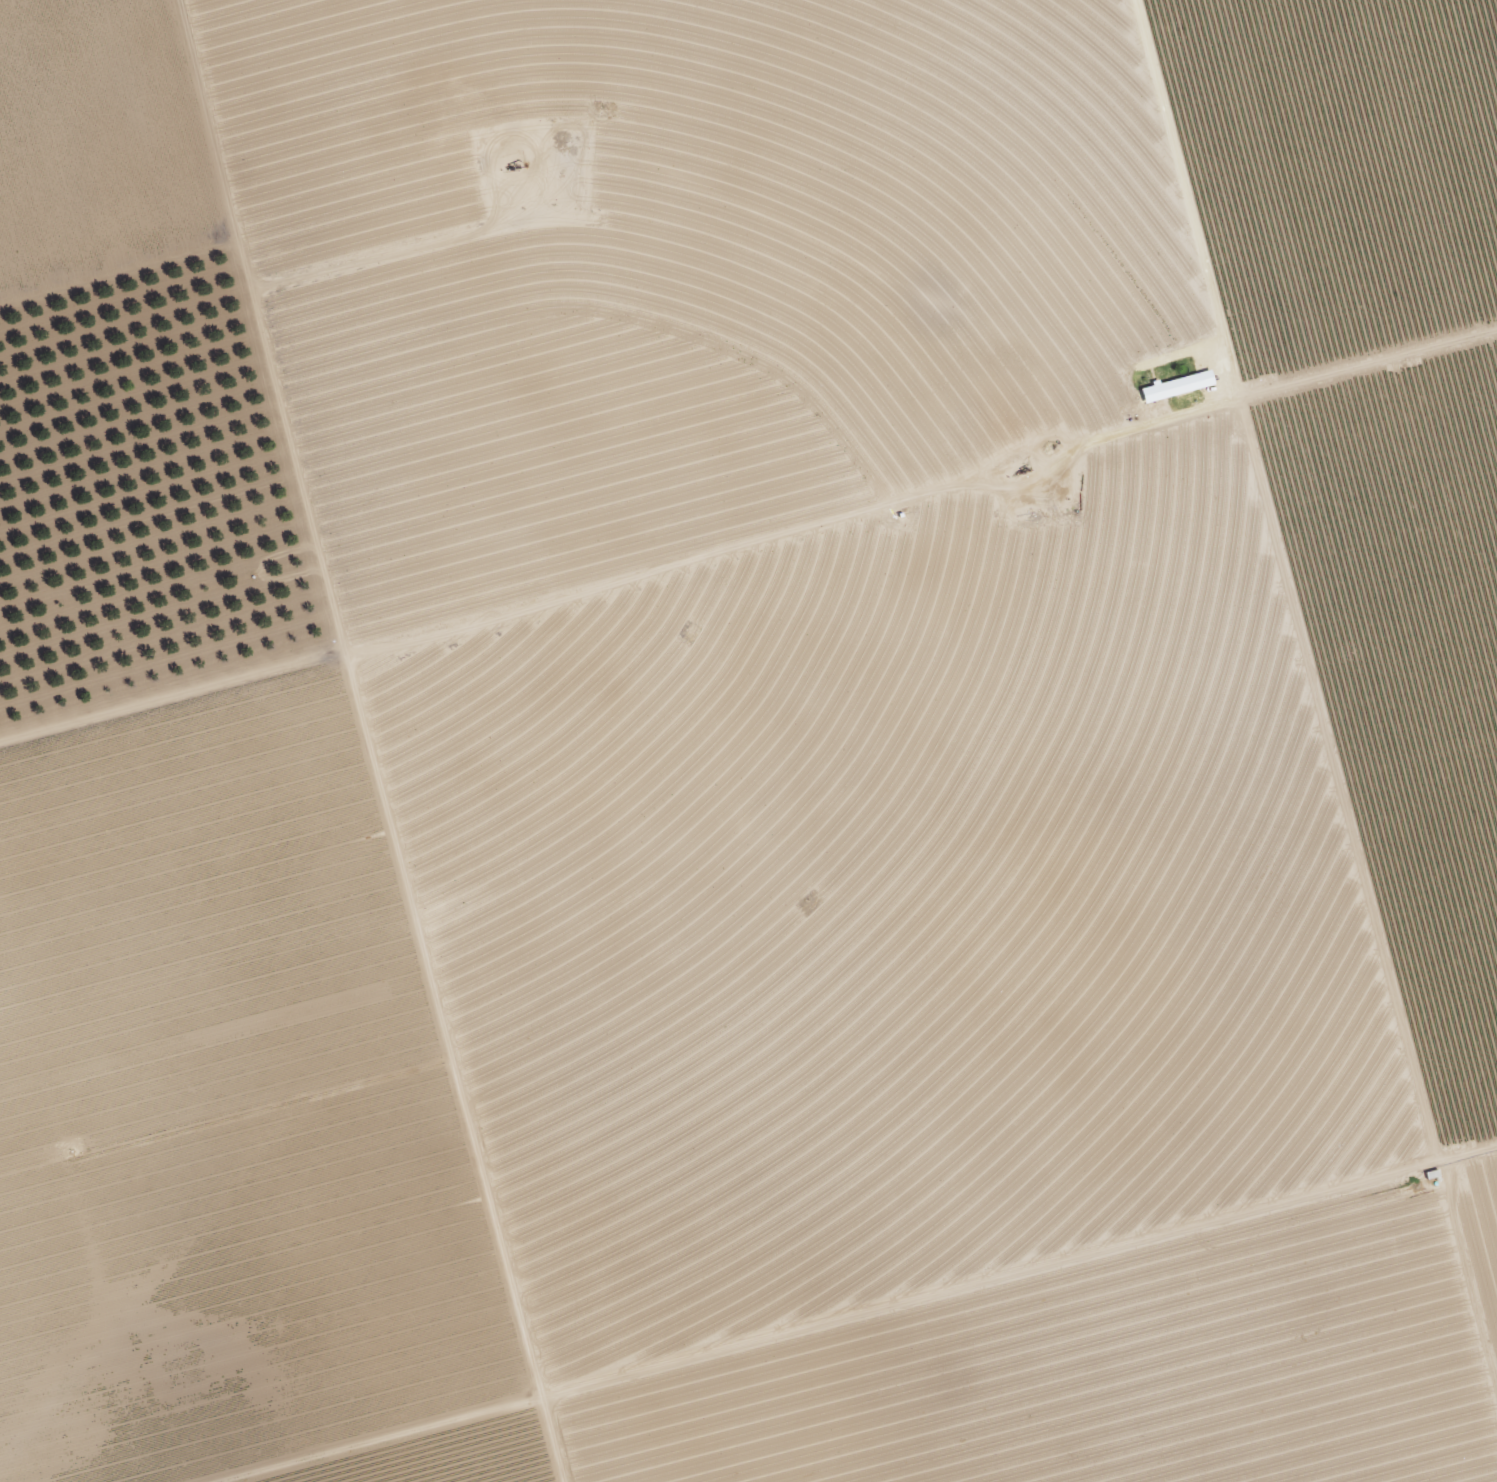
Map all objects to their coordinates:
building: (1150, 393)

